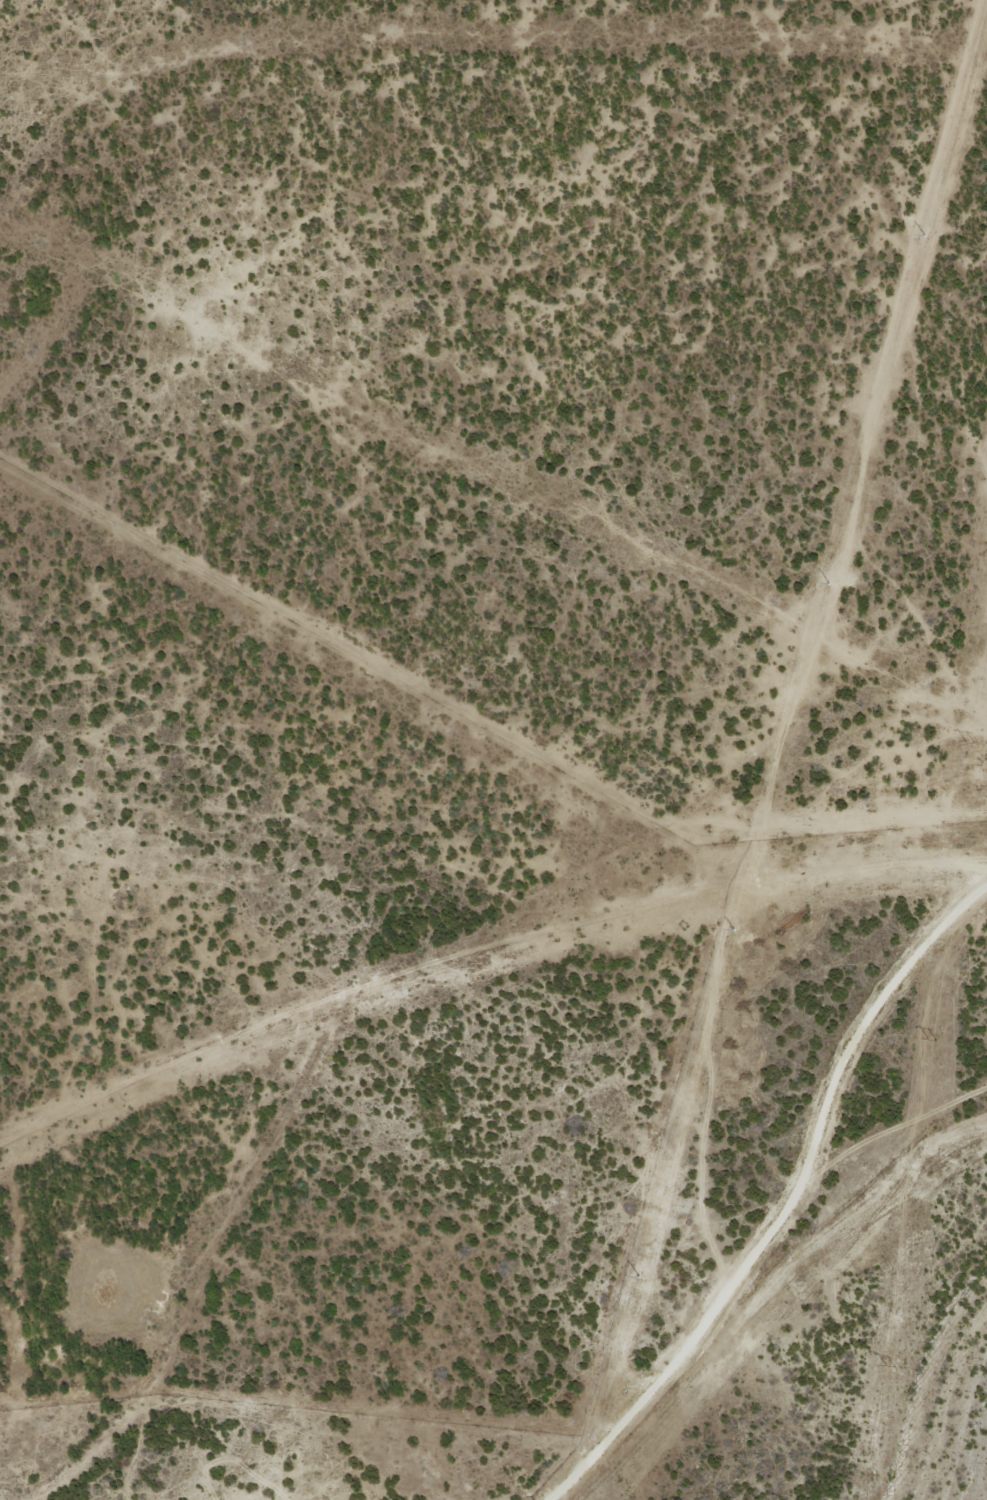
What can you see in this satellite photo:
power tower: (926, 234)
power tower: (828, 582)
power tower: (968, 741)
power tower: (731, 928)
power tower: (933, 1039)
power tower: (635, 1275)
road: (771, 1282)
power tower: (894, 1364)

